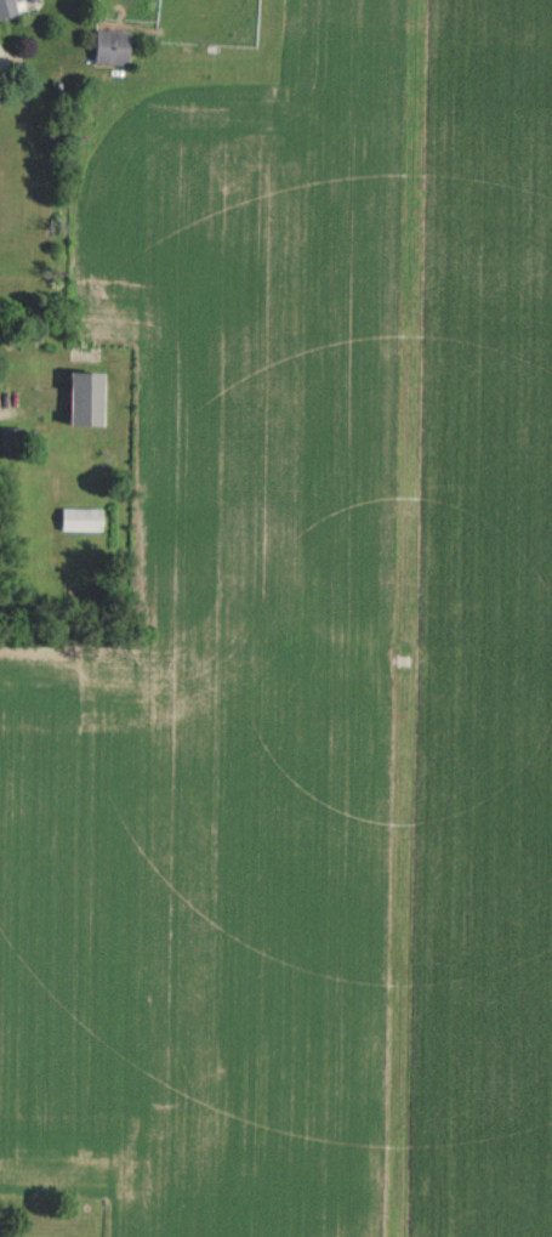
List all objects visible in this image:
building: (13, 6)
building: (110, 45)
building: (81, 395)
building: (11, 439)
building: (80, 517)

